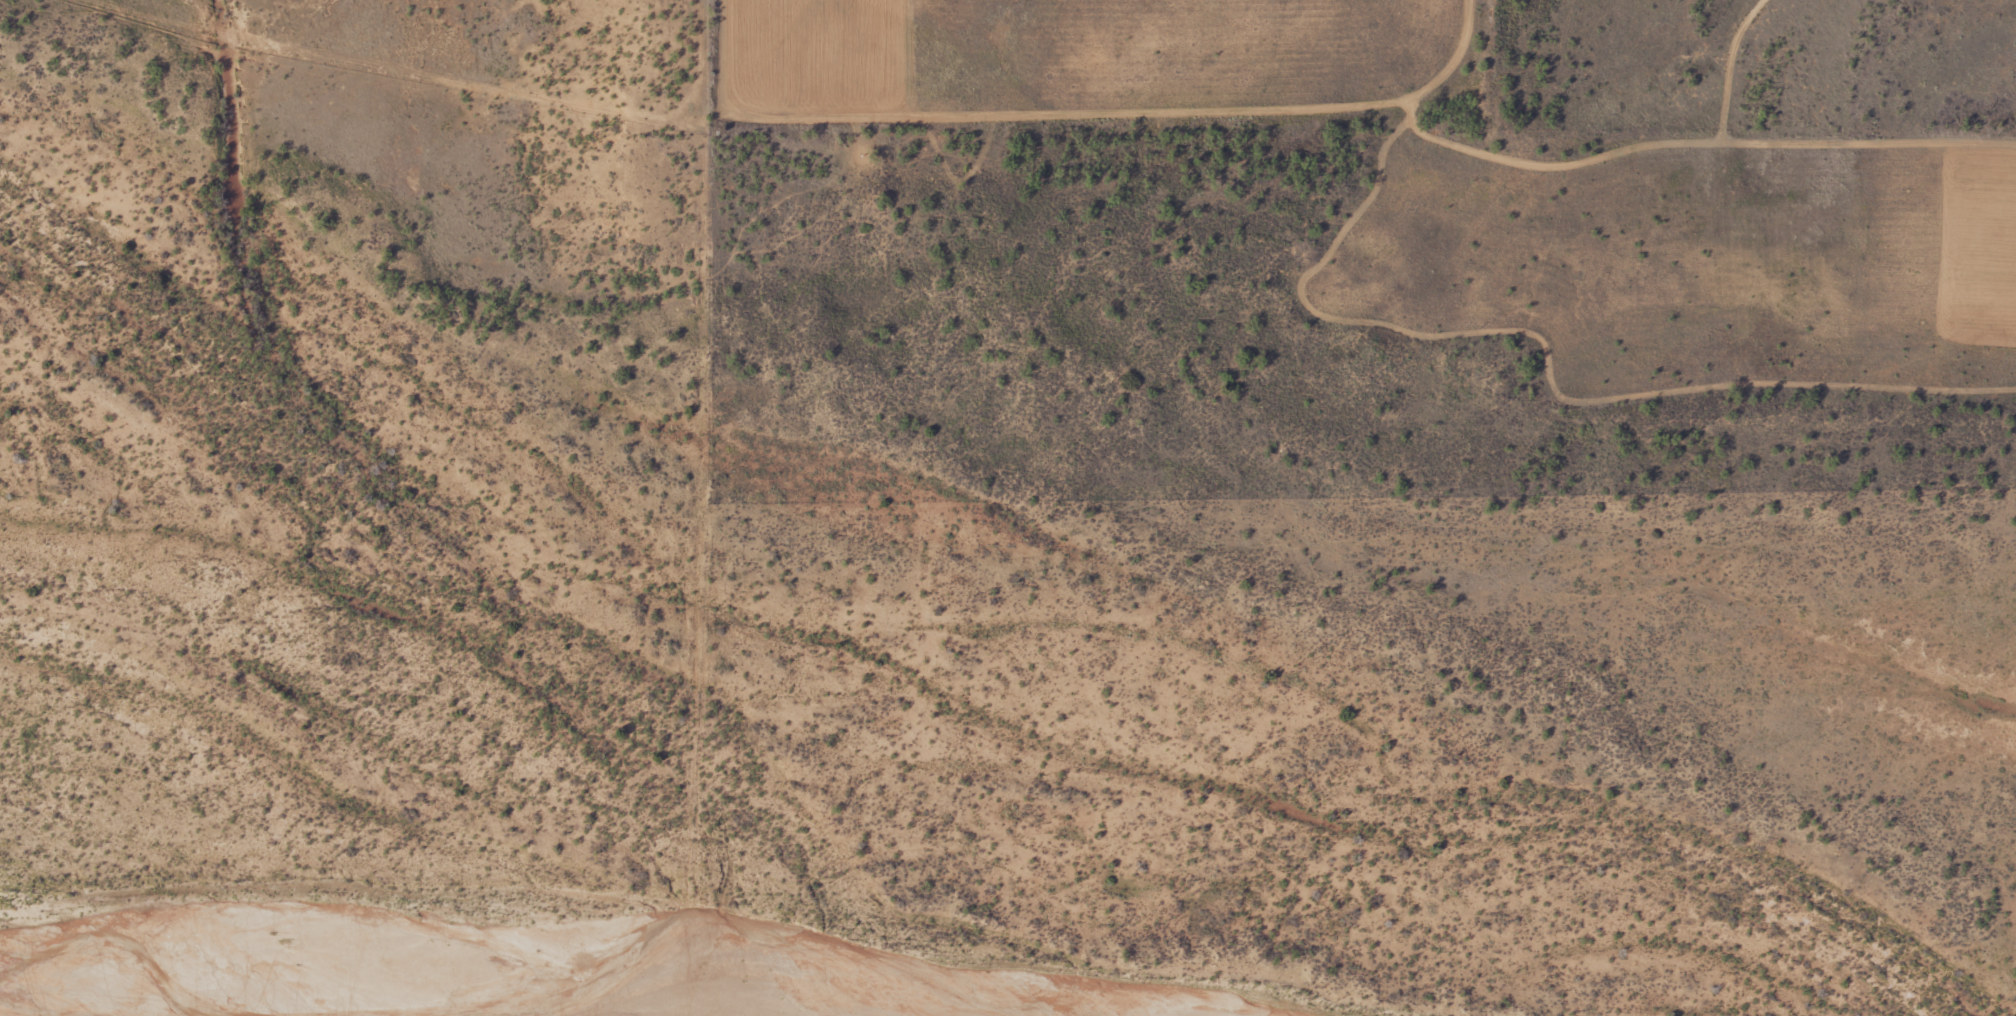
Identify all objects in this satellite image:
river: (152, 995)

